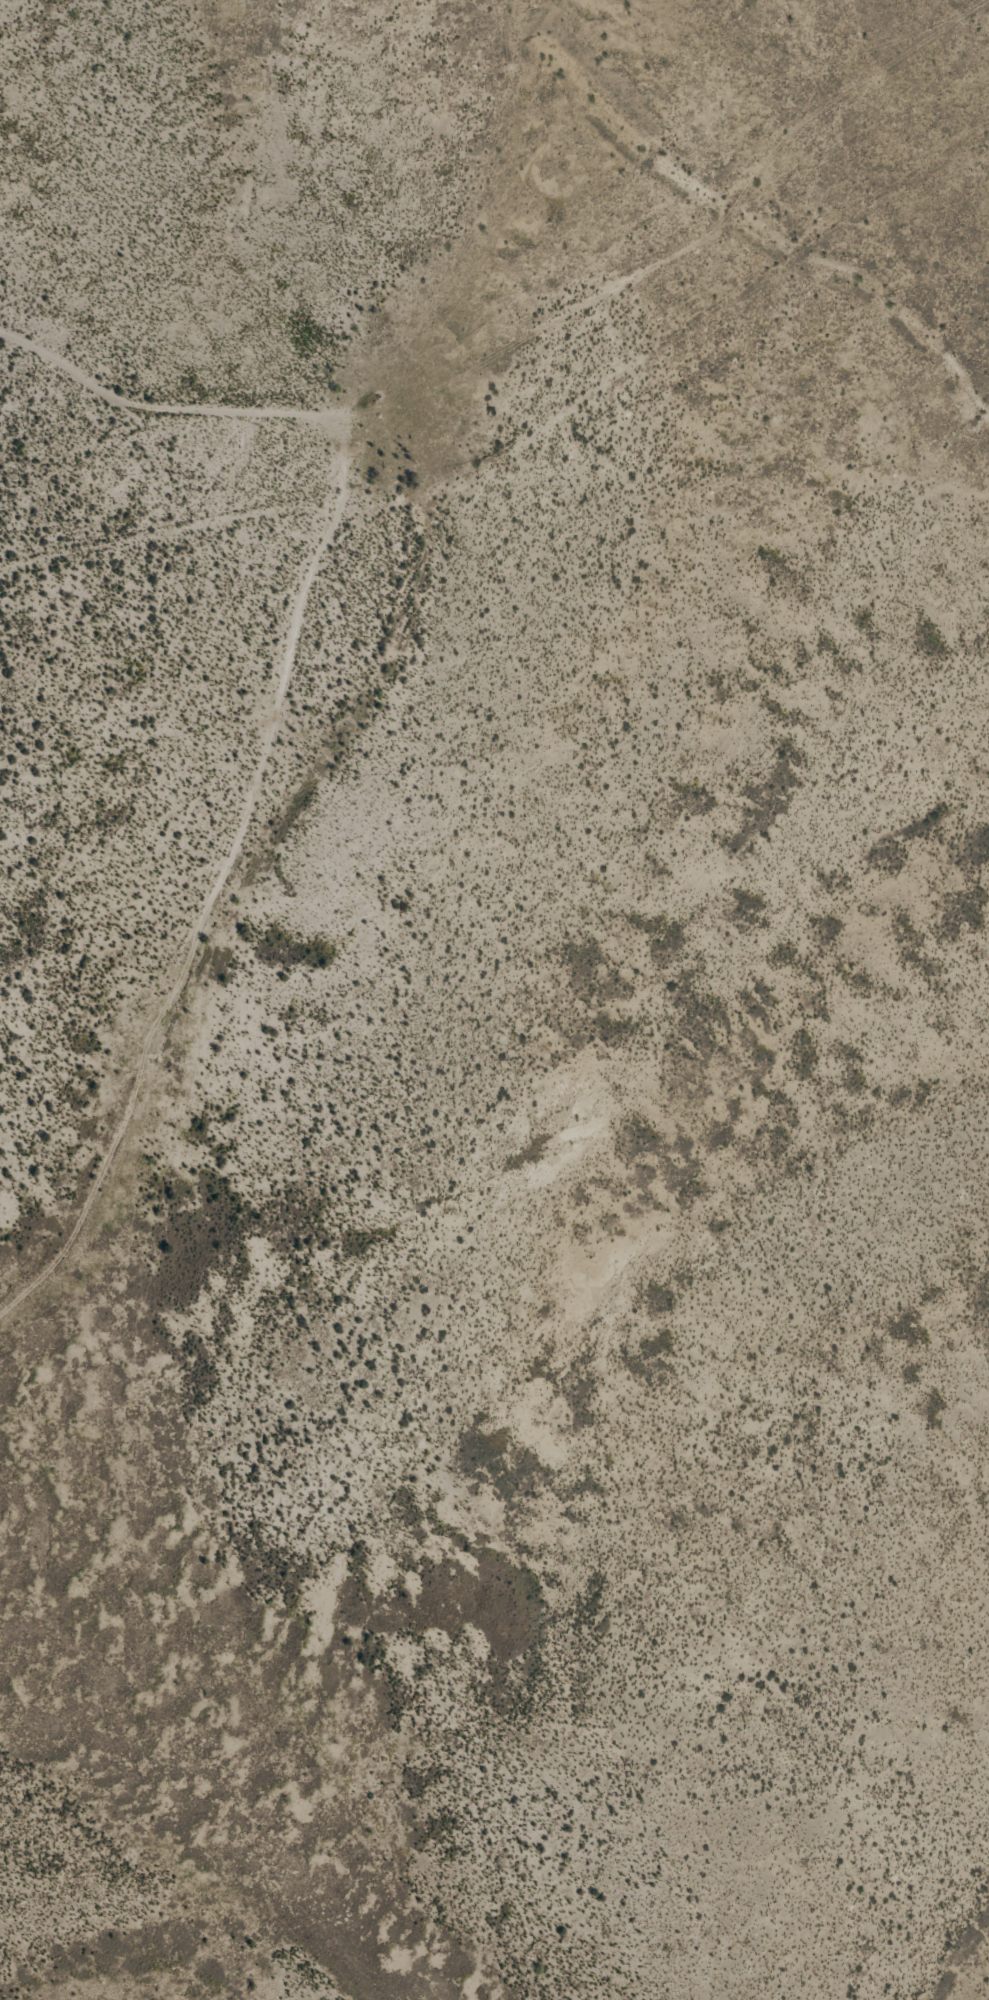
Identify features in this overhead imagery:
road: (392, 383)
road: (234, 892)

